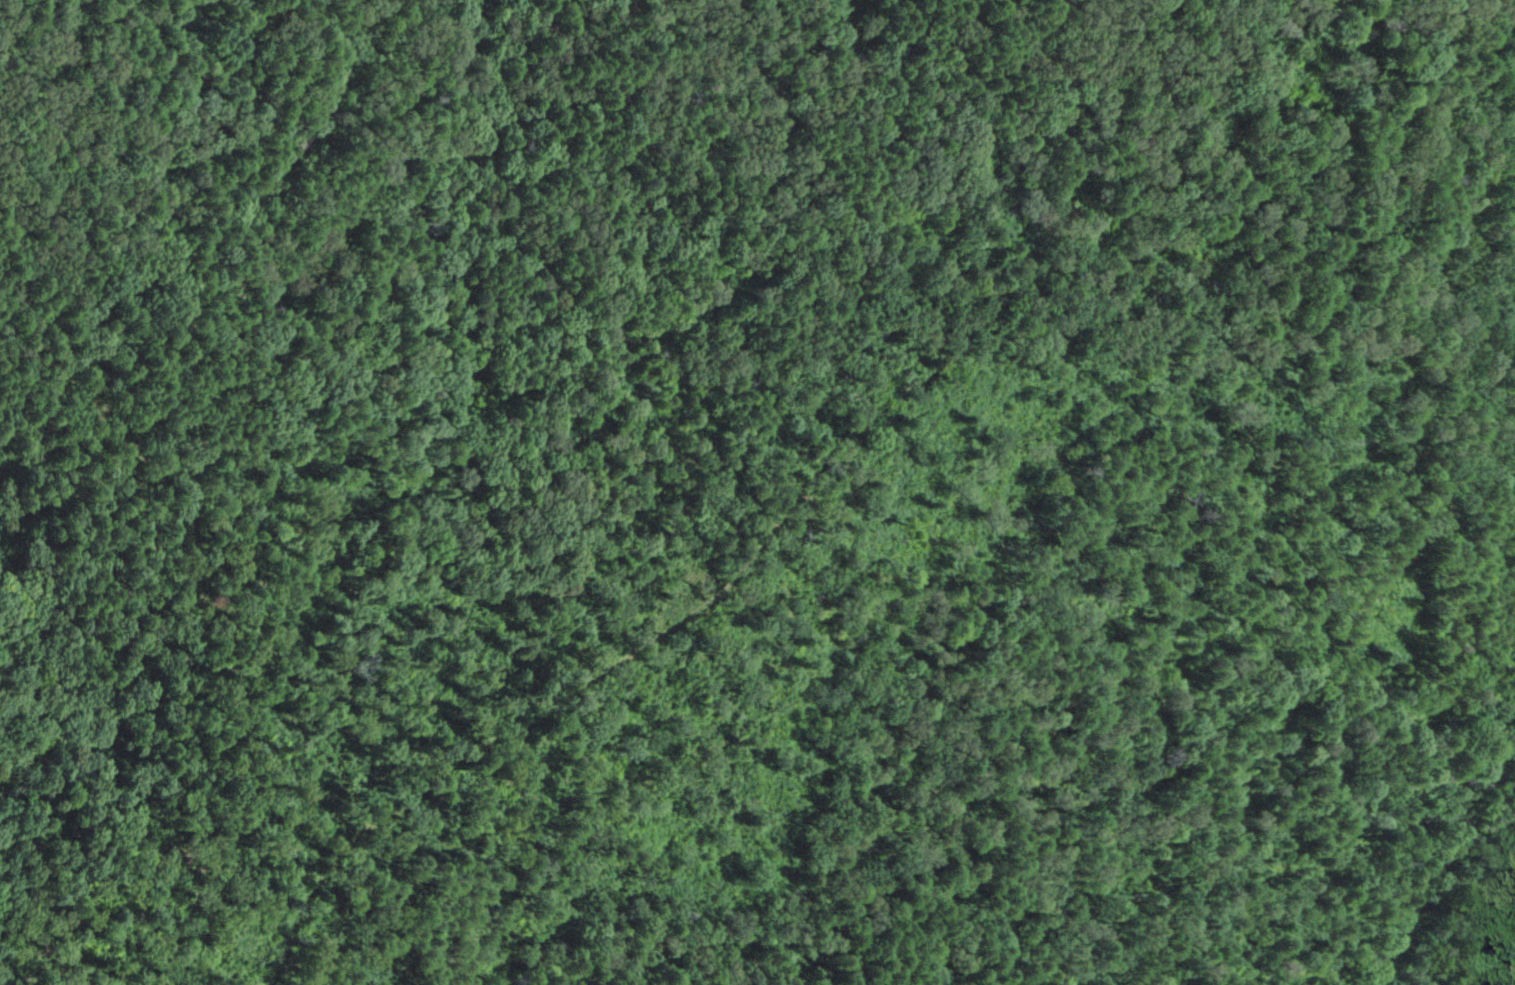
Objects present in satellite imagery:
road: (1456, 895)

